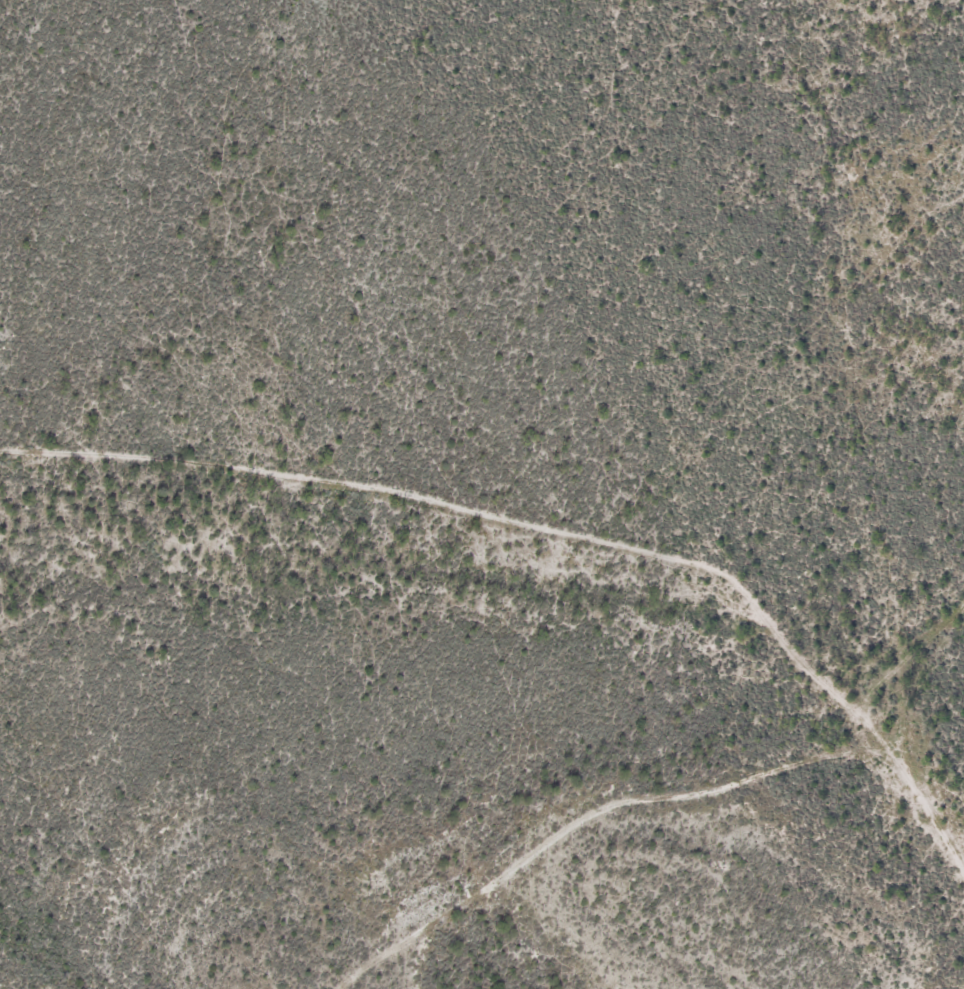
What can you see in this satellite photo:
road: (483, 515)
road: (906, 683)
road: (656, 798)

